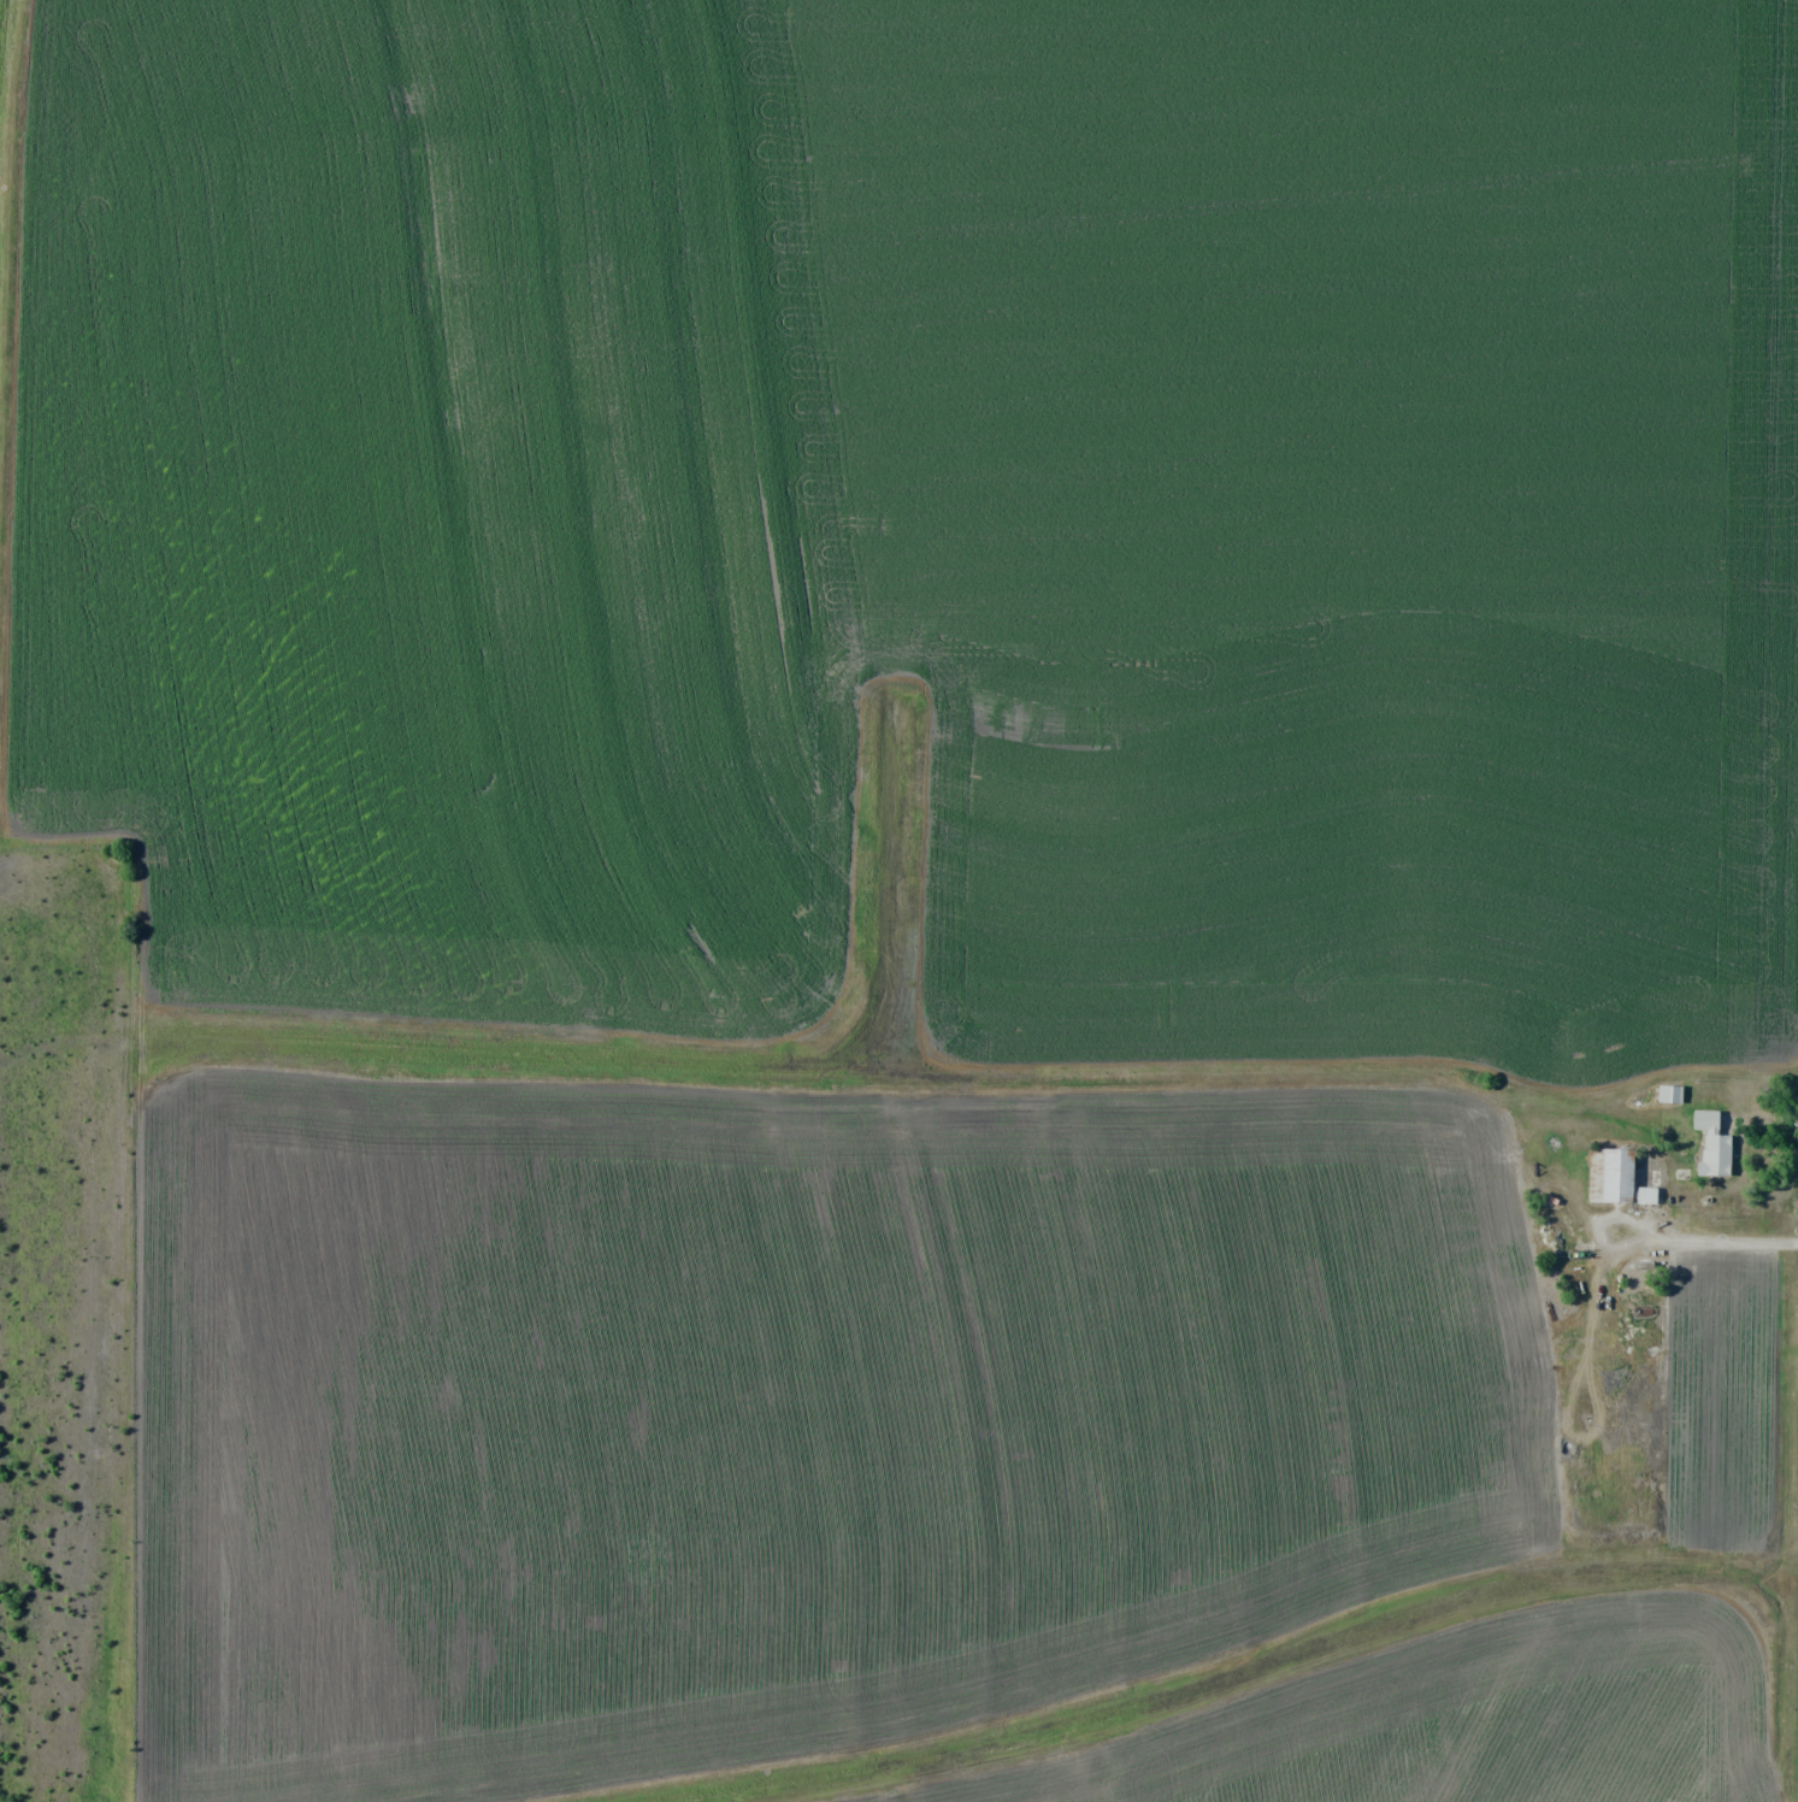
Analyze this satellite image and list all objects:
building: (1668, 1094)
building: (1710, 1143)
building: (1609, 1176)
building: (1644, 1195)

